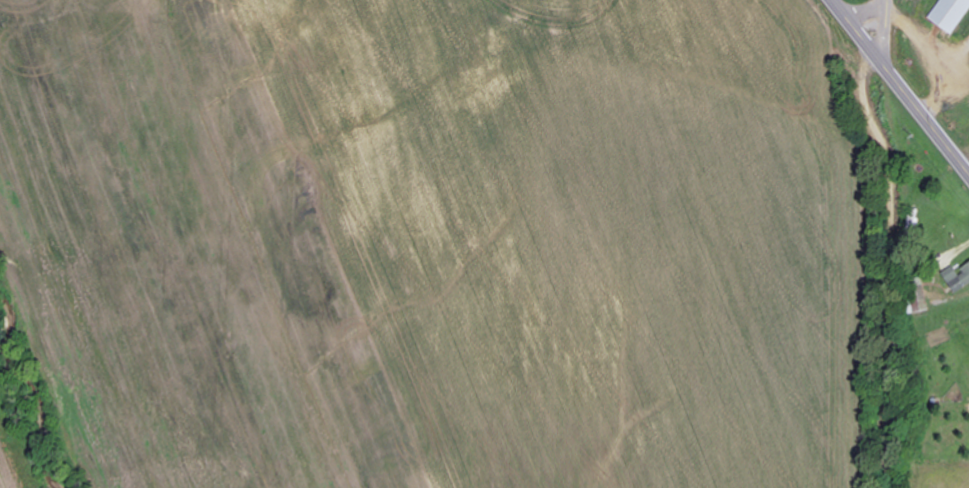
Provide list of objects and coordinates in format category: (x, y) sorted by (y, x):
road: (850, 19)
road: (880, 20)
road: (917, 105)
road: (891, 268)
building: (958, 280)

